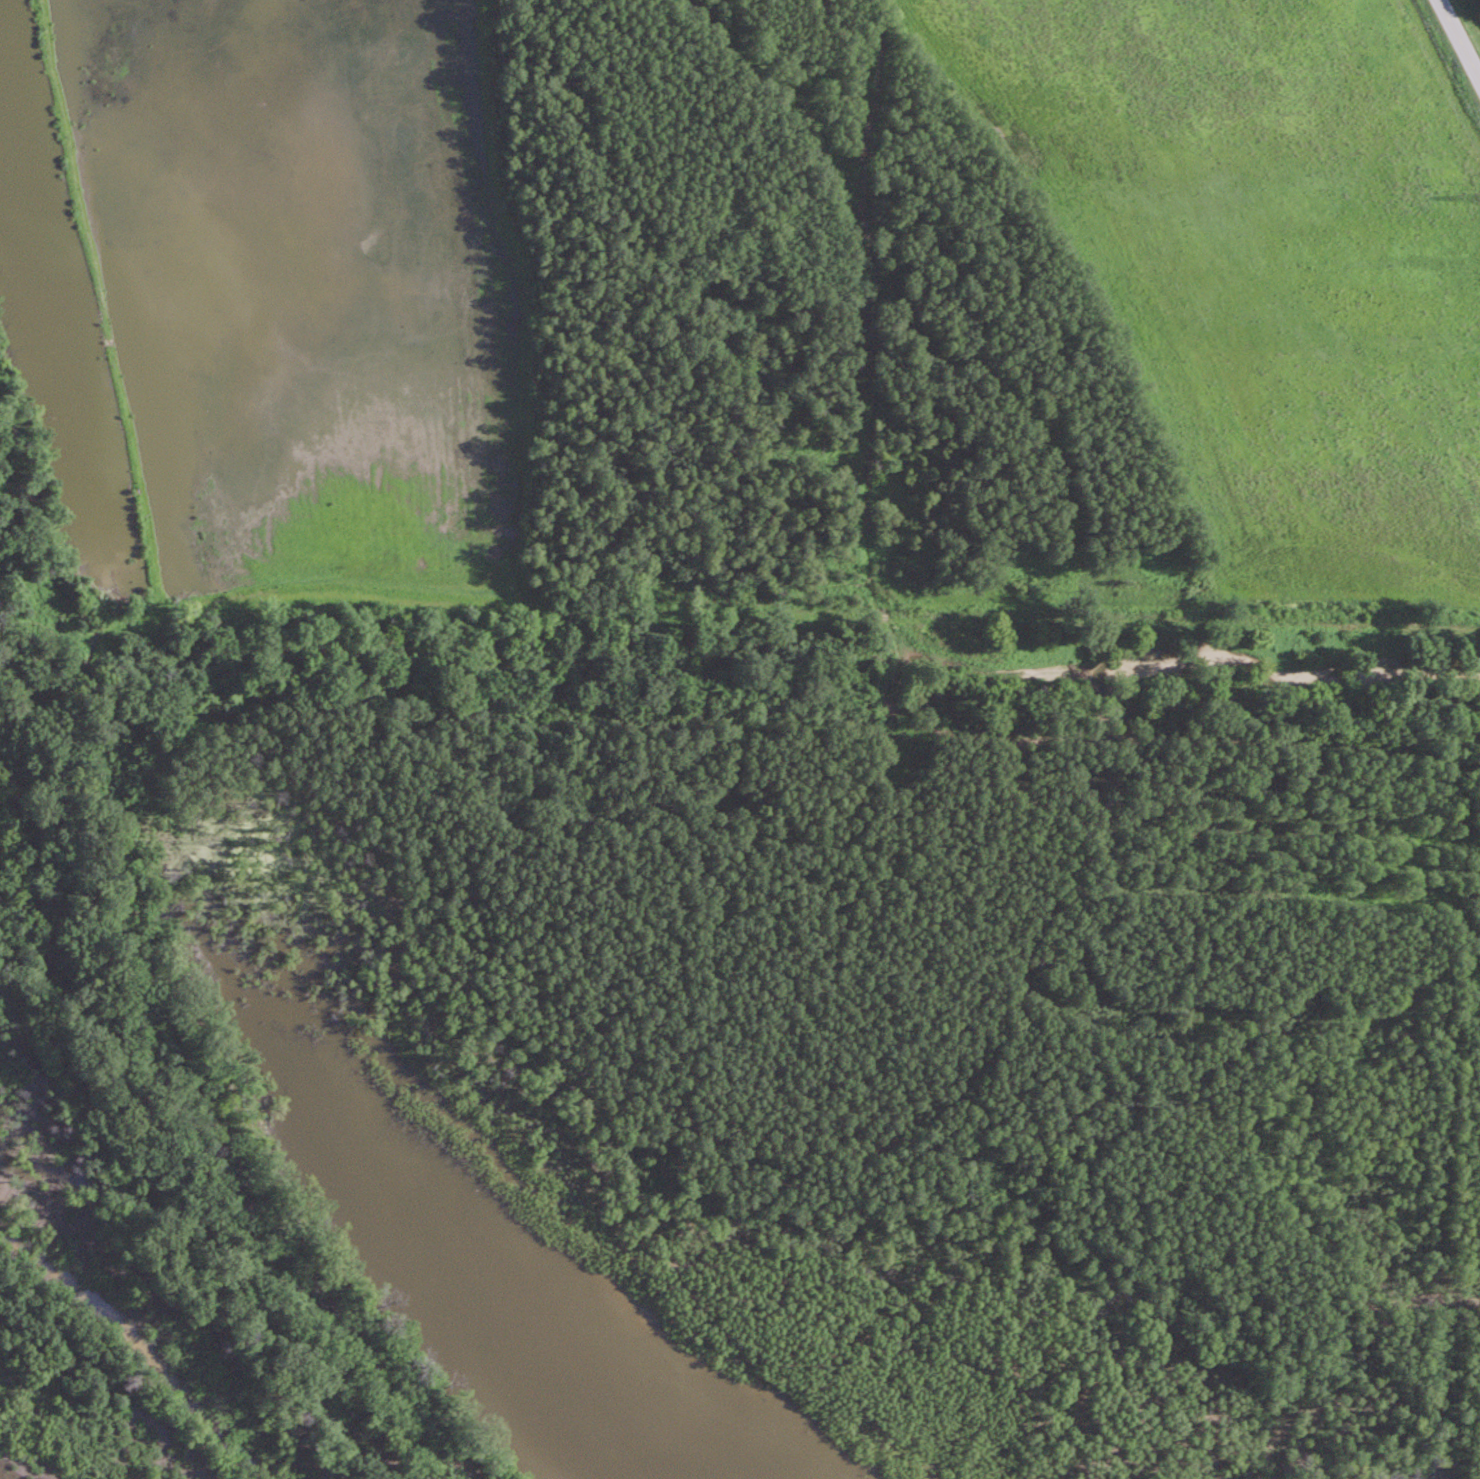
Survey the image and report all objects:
road: (1458, 42)

